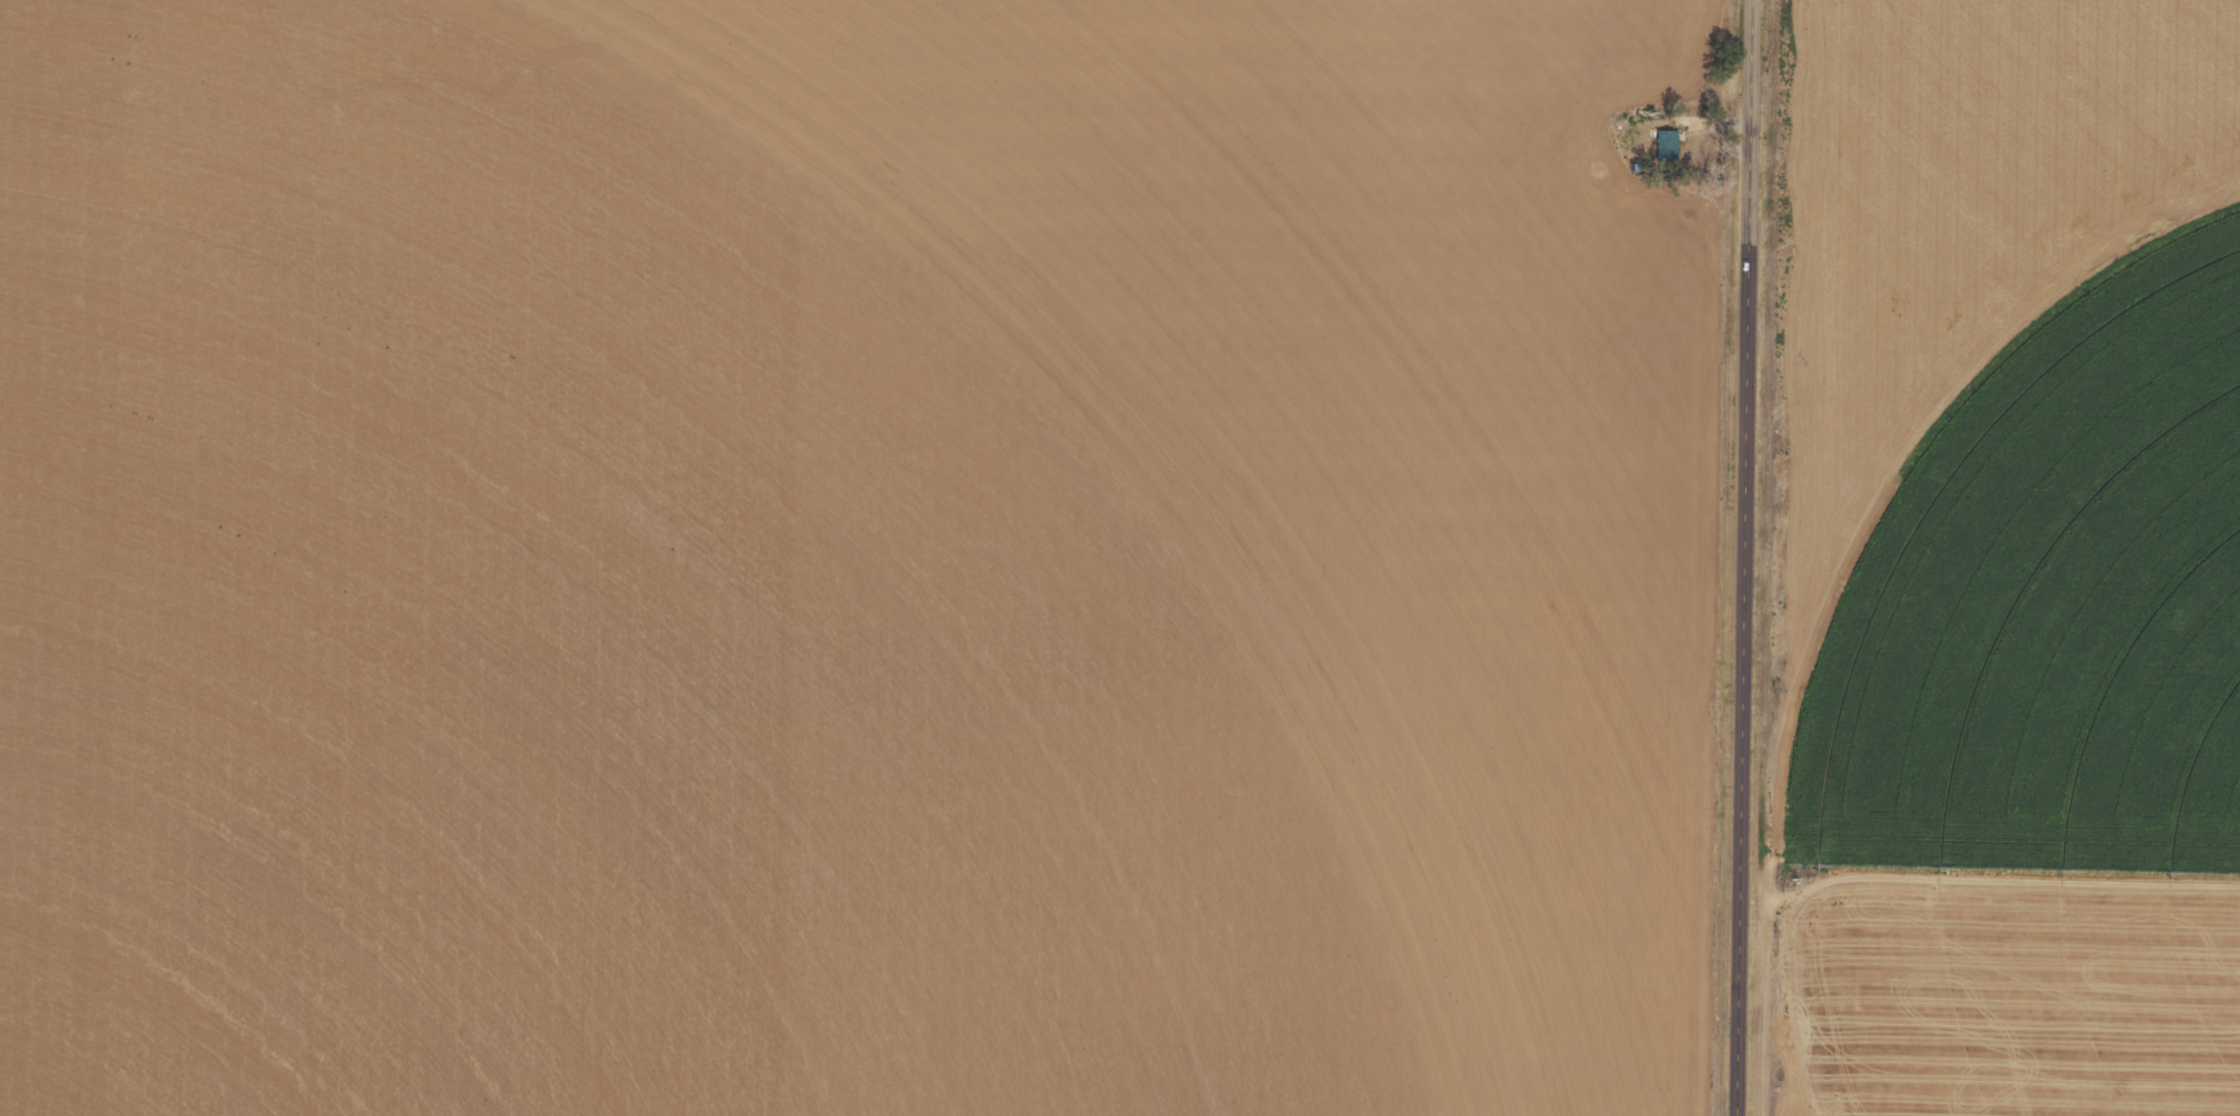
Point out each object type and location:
road: (1749, 558)

